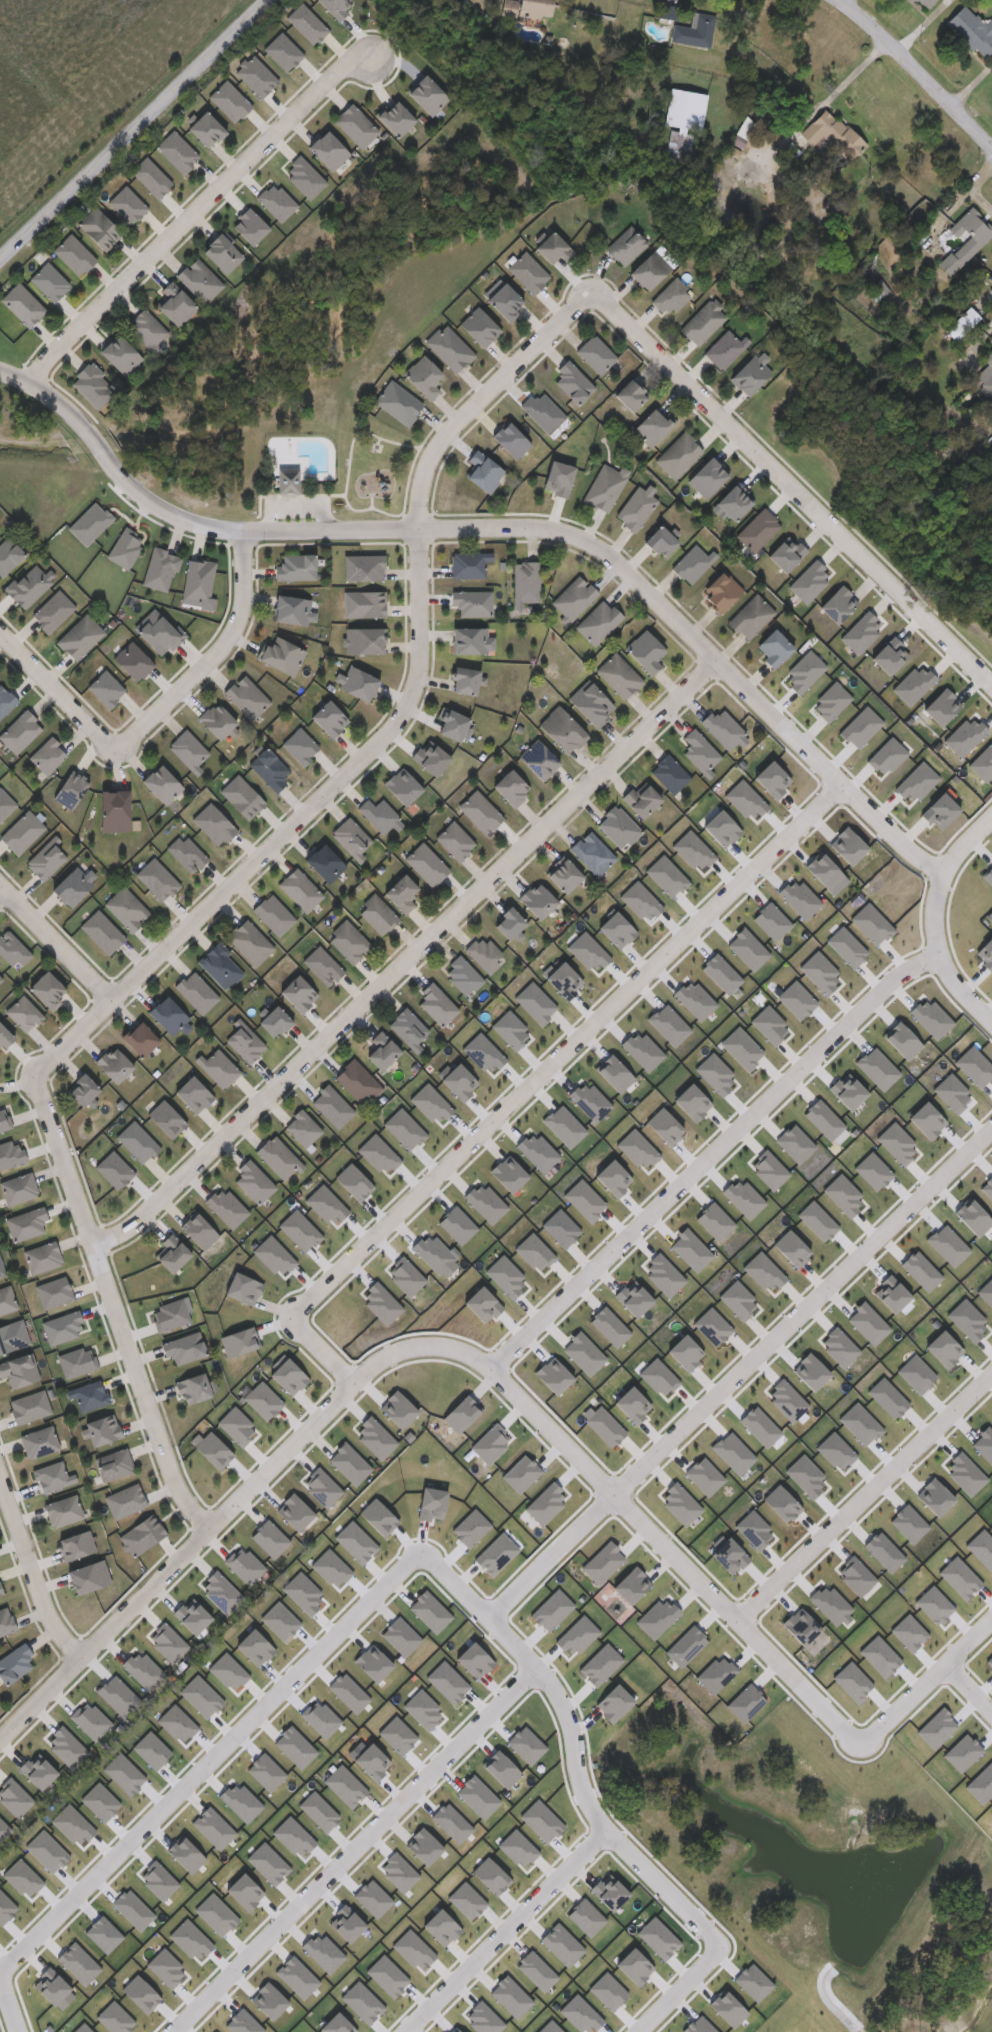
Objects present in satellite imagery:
building: (922, 3)
building: (524, 7)
building: (666, 10)
building: (670, 14)
building: (692, 29)
building: (970, 30)
road: (911, 75)
building: (427, 93)
building: (395, 116)
building: (680, 123)
building: (355, 124)
building: (206, 127)
road: (134, 129)
building: (830, 134)
building: (328, 149)
road: (196, 221)
building: (99, 228)
building: (964, 239)
building: (625, 244)
building: (552, 247)
building: (221, 252)
building: (649, 269)
building: (199, 279)
building: (50, 281)
building: (875, 289)
building: (671, 296)
building: (504, 301)
building: (23, 304)
building: (175, 304)
building: (703, 321)
road: (991, 322)
building: (960, 323)
building: (479, 327)
building: (146, 328)
building: (449, 347)
building: (724, 348)
building: (595, 353)
building: (120, 354)
building: (750, 372)
building: (986, 375)
building: (423, 376)
building: (572, 382)
building: (91, 385)
building: (630, 394)
building: (398, 402)
road: (482, 402)
building: (543, 410)
building: (651, 426)
building: (679, 454)
building: (483, 470)
building: (707, 476)
building: (288, 477)
building: (361, 484)
building: (605, 486)
road: (791, 488)
building: (733, 502)
building: (636, 506)
building: (89, 522)
road: (508, 529)
building: (757, 529)
building: (660, 540)
building: (123, 545)
building: (8, 555)
building: (693, 562)
building: (469, 563)
building: (158, 566)
building: (296, 566)
building: (198, 580)
building: (526, 582)
building: (29, 584)
building: (719, 591)
building: (573, 597)
building: (472, 602)
building: (293, 609)
building: (52, 611)
building: (750, 616)
building: (598, 622)
building: (159, 631)
building: (80, 637)
building: (471, 640)
building: (774, 647)
building: (646, 650)
building: (282, 655)
road: (218, 658)
building: (132, 661)
building: (619, 675)
building: (464, 680)
building: (358, 683)
building: (106, 687)
road: (58, 691)
building: (247, 696)
building: (6, 701)
building: (591, 702)
building: (329, 718)
building: (217, 720)
building: (453, 725)
building: (723, 727)
building: (562, 729)
building: (20, 730)
building: (301, 745)
building: (189, 748)
building: (699, 750)
building: (48, 754)
building: (539, 759)
building: (269, 768)
building: (669, 773)
building: (161, 783)
building: (511, 787)
building: (642, 799)
building: (114, 810)
building: (480, 811)
building: (380, 815)
building: (618, 826)
building: (22, 831)
road: (289, 831)
building: (351, 836)
building: (455, 840)
road: (964, 843)
building: (592, 853)
building: (45, 859)
building: (324, 863)
building: (426, 864)
building: (564, 875)
building: (73, 884)
building: (300, 889)
road: (1, 890)
building: (401, 892)
building: (537, 899)
building: (127, 908)
building: (377, 913)
building: (509, 922)
building: (250, 941)
building: (348, 941)
road: (57, 942)
building: (11, 948)
building: (483, 953)
road: (938, 955)
road: (408, 956)
building: (221, 966)
building: (462, 974)
building: (0, 978)
building: (46, 989)
building: (299, 993)
building: (436, 1004)
building: (24, 1013)
building: (168, 1016)
building: (274, 1020)
building: (408, 1027)
building: (4, 1036)
building: (139, 1038)
building: (244, 1041)
building: (382, 1050)
building: (114, 1063)
building: (218, 1067)
building: (358, 1081)
road: (533, 1081)
building: (82, 1089)
building: (4, 1119)
building: (302, 1128)
building: (10, 1153)
road: (712, 1153)
building: (278, 1157)
building: (253, 1181)
building: (19, 1188)
building: (26, 1223)
building: (172, 1253)
building: (43, 1256)
building: (1, 1269)
building: (6, 1300)
road: (117, 1306)
road: (804, 1309)
building: (183, 1347)
building: (19, 1369)
building: (193, 1387)
road: (519, 1390)
building: (89, 1395)
building: (102, 1428)
building: (39, 1441)
building: (114, 1463)
building: (52, 1476)
road: (864, 1495)
building: (63, 1510)
road: (197, 1544)
road: (549, 1552)
road: (32, 1575)
road: (700, 1582)
building: (6, 1621)
road: (327, 1642)
building: (14, 1663)
road: (968, 1685)
road: (889, 1712)
road: (353, 1848)
road: (706, 1925)
road: (498, 1927)
road: (9, 2005)

